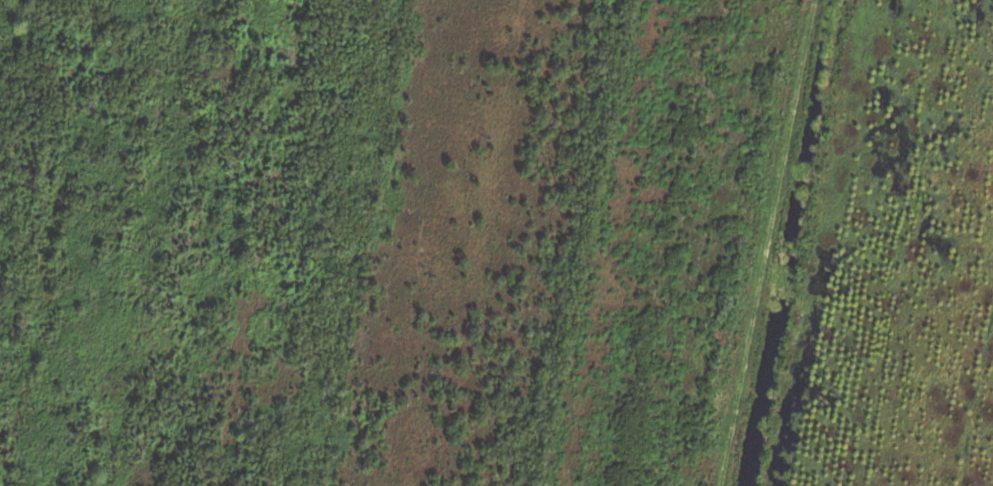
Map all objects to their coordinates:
road: (766, 243)

